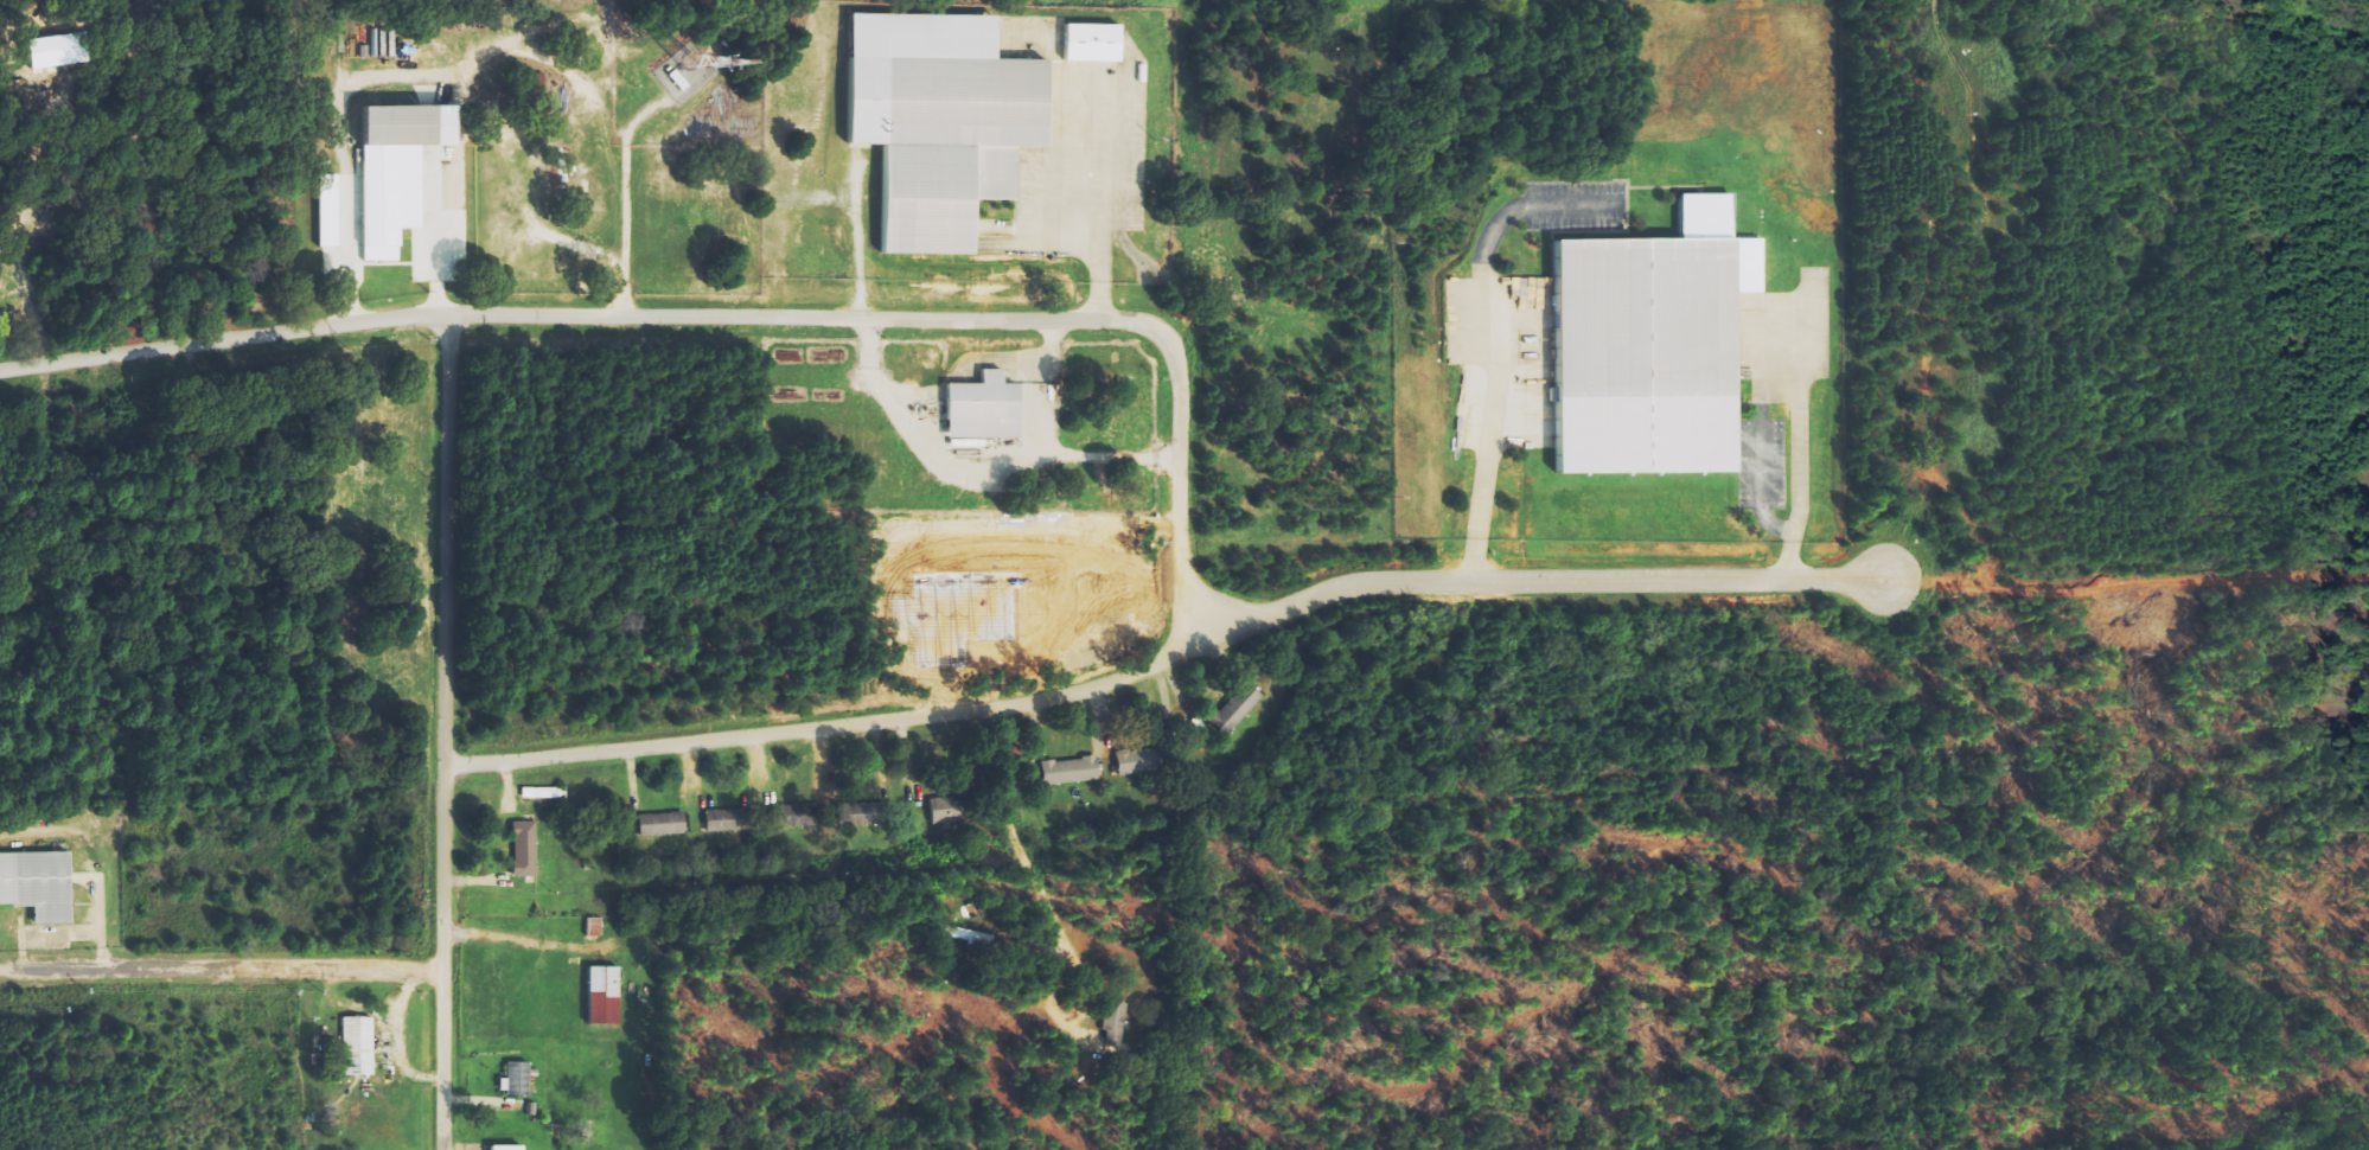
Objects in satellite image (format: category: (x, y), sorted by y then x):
building: (1093, 43)
building: (943, 122)
building: (398, 171)
road: (1111, 203)
building: (328, 211)
road: (223, 340)
building: (1653, 346)
building: (985, 409)
road: (1109, 455)
road: (977, 471)
road: (1187, 505)
road: (1534, 582)
building: (1237, 709)
road: (441, 731)
building: (1137, 761)
building: (1071, 772)
building: (860, 814)
building: (788, 817)
building: (723, 820)
building: (663, 824)
building: (525, 849)
road: (1032, 871)
building: (38, 886)
building: (966, 935)
road: (219, 976)
building: (602, 992)
building: (1115, 1022)
building: (358, 1046)
building: (517, 1079)
building: (507, 1148)

